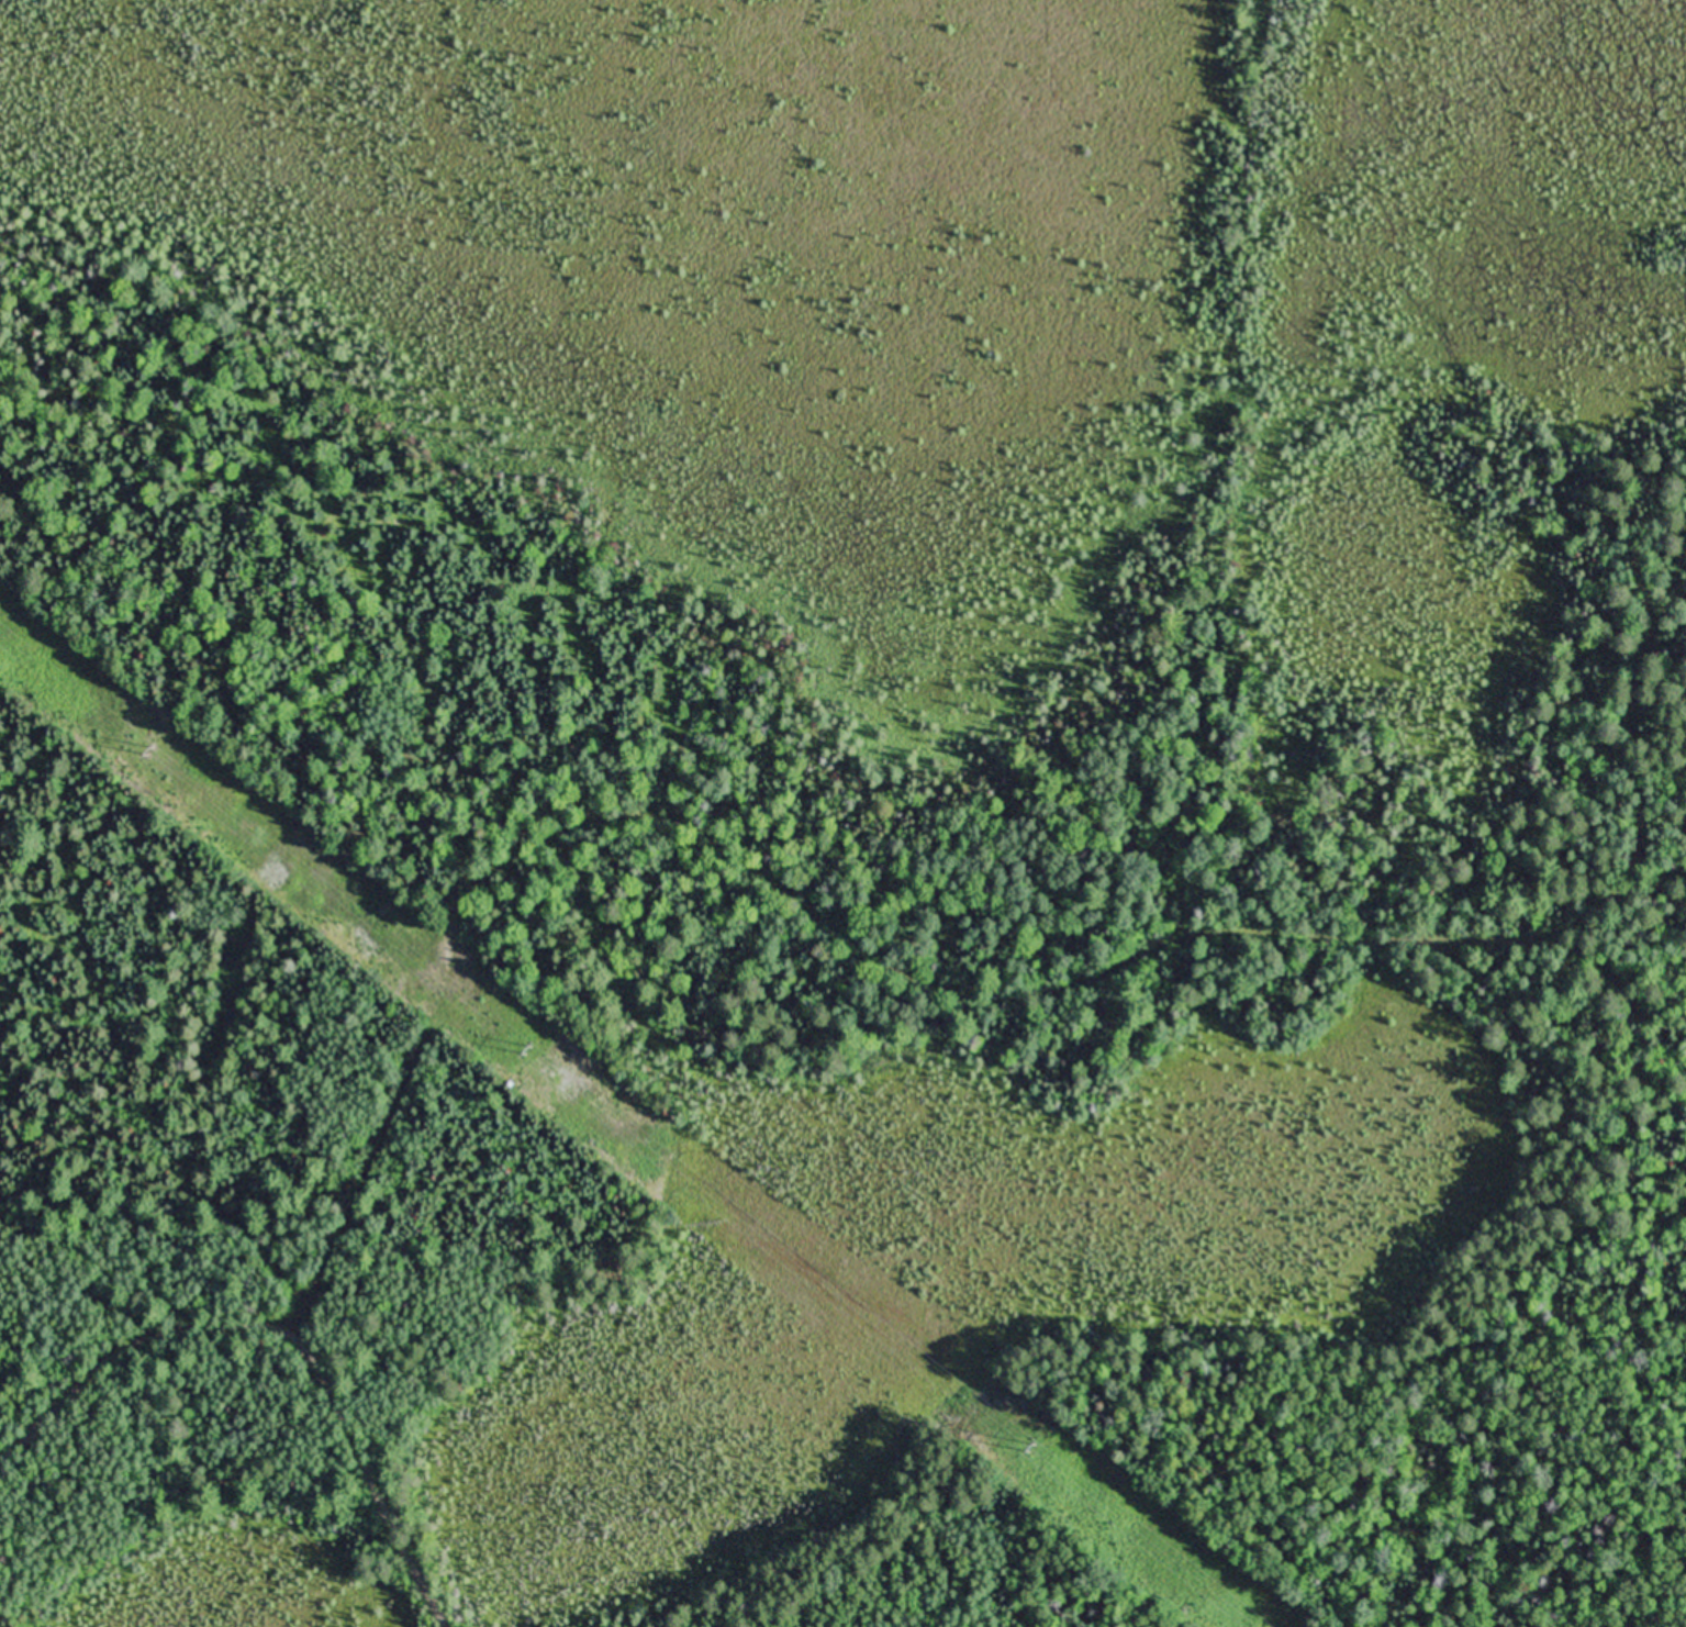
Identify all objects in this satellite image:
power tower: (153, 753)
power tower: (531, 1051)
road: (283, 1339)
power tower: (1045, 1448)

